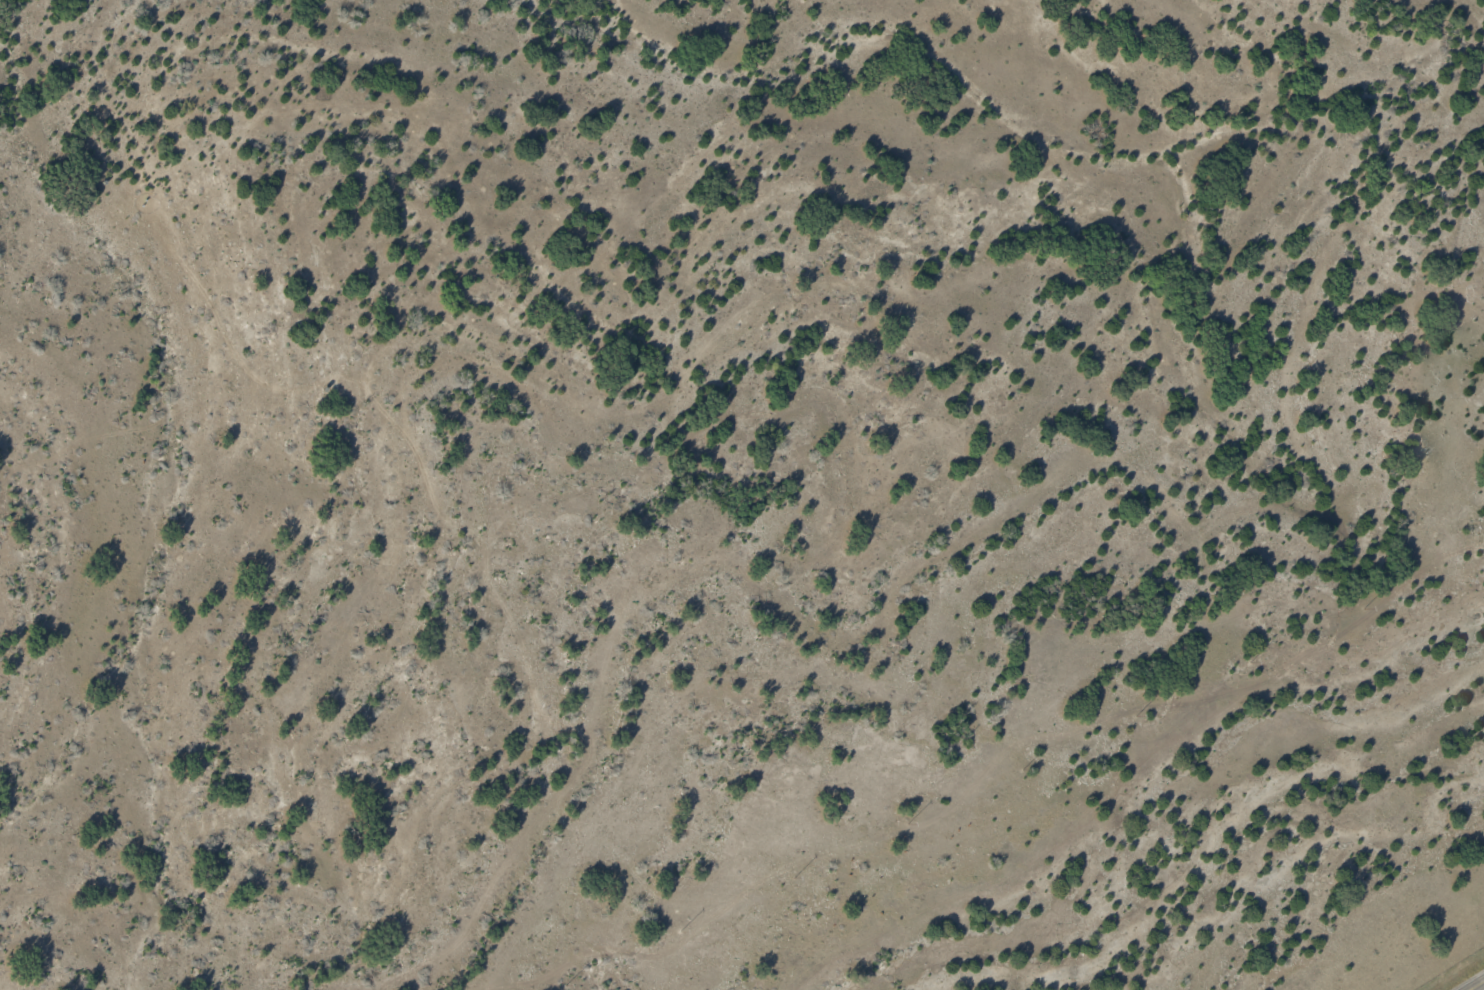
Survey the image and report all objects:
road: (1483, 989)

